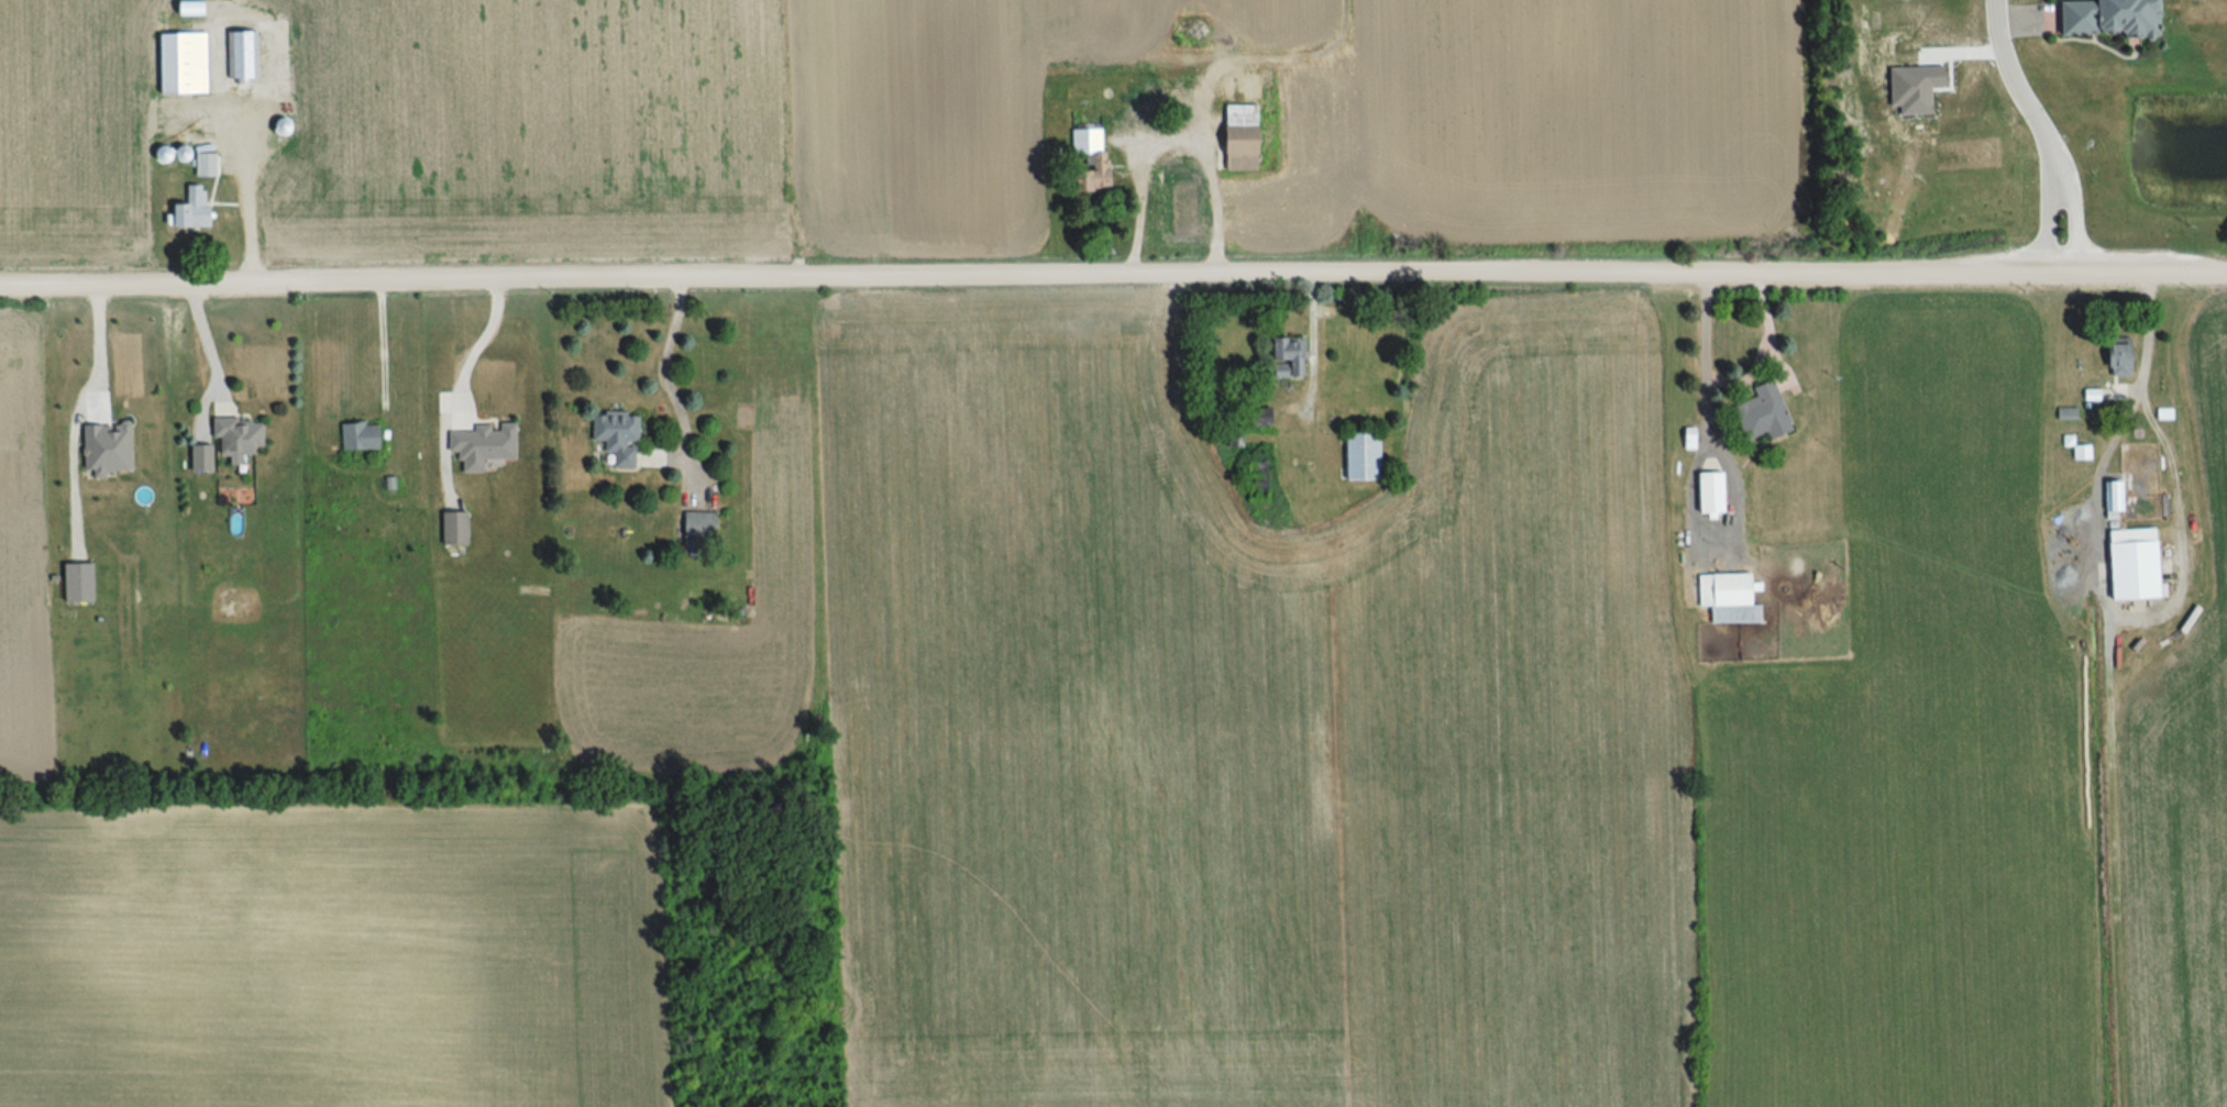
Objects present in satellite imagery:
building: (2119, 19)
building: (239, 56)
building: (178, 65)
building: (1235, 81)
road: (2021, 93)
crop: (1012, 121)
crop: (78, 131)
building: (1234, 139)
road: (1175, 142)
building: (1094, 164)
road: (253, 210)
building: (187, 211)
road: (2077, 224)
road: (2048, 226)
road: (1113, 273)
road: (488, 334)
road: (2143, 334)
road: (383, 346)
road: (99, 348)
road: (214, 351)
building: (1286, 357)
building: (2115, 357)
road: (666, 369)
building: (1759, 414)
building: (1254, 419)
building: (356, 436)
building: (611, 439)
building: (233, 441)
building: (476, 445)
building: (1357, 457)
building: (199, 458)
building: (1253, 484)
building: (1705, 495)
building: (2110, 498)
building: (693, 527)
building: (2129, 564)
building: (1724, 598)
crop: (1247, 727)
crop: (1911, 763)
crop: (2182, 794)
crop: (333, 954)

